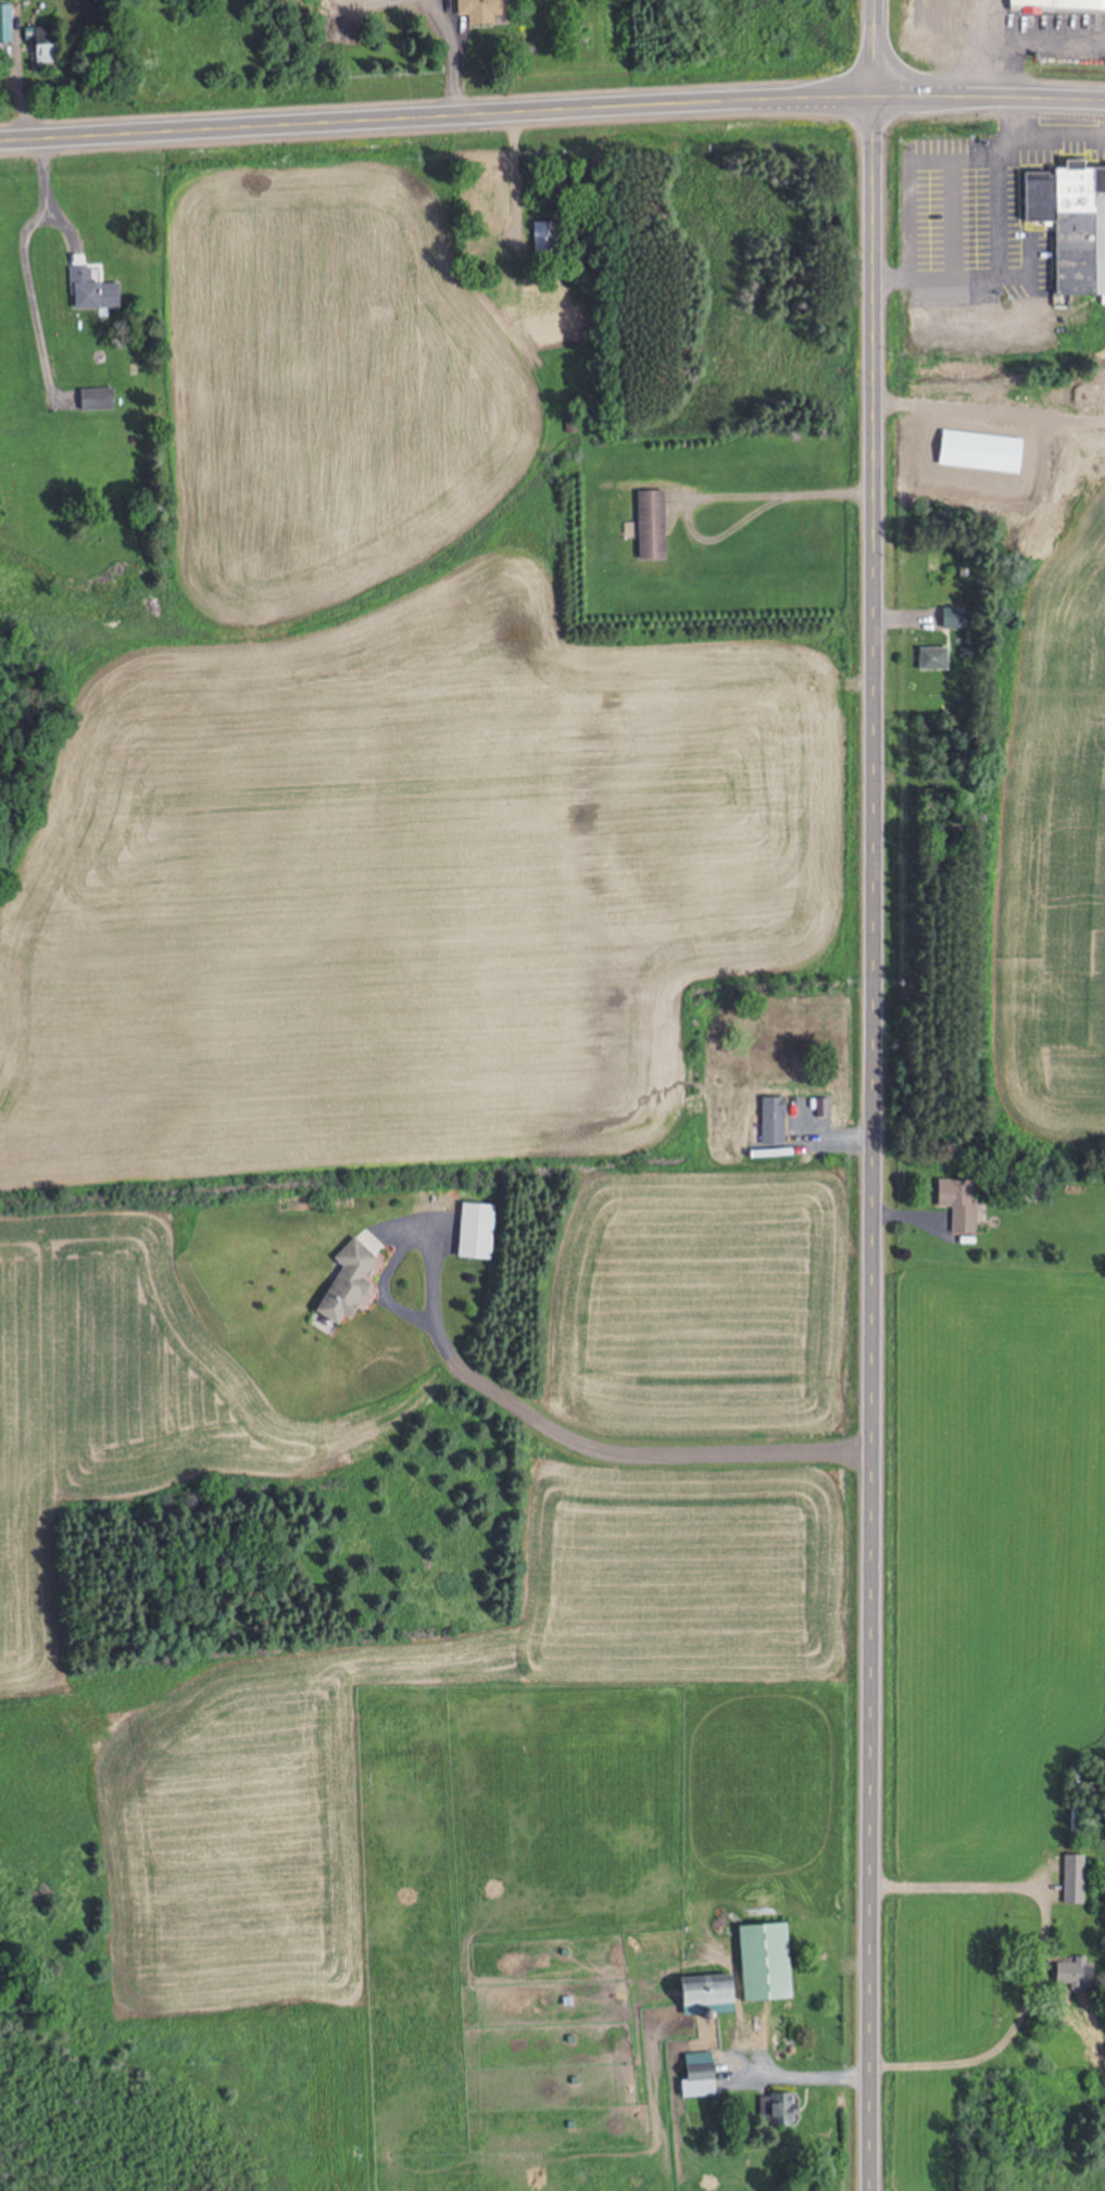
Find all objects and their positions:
building: (1056, 4)
building: (477, 8)
building: (941, 22)
building: (49, 47)
road: (869, 48)
road: (987, 100)
road: (434, 117)
building: (484, 201)
building: (1068, 225)
building: (538, 240)
building: (96, 291)
building: (536, 314)
building: (99, 399)
building: (644, 526)
building: (946, 618)
building: (927, 659)
building: (767, 1123)
road: (875, 1144)
building: (953, 1204)
building: (469, 1233)
building: (338, 1286)
building: (1069, 1879)
building: (759, 1962)
building: (1069, 1973)
building: (698, 1992)
building: (692, 2075)
building: (773, 2110)

